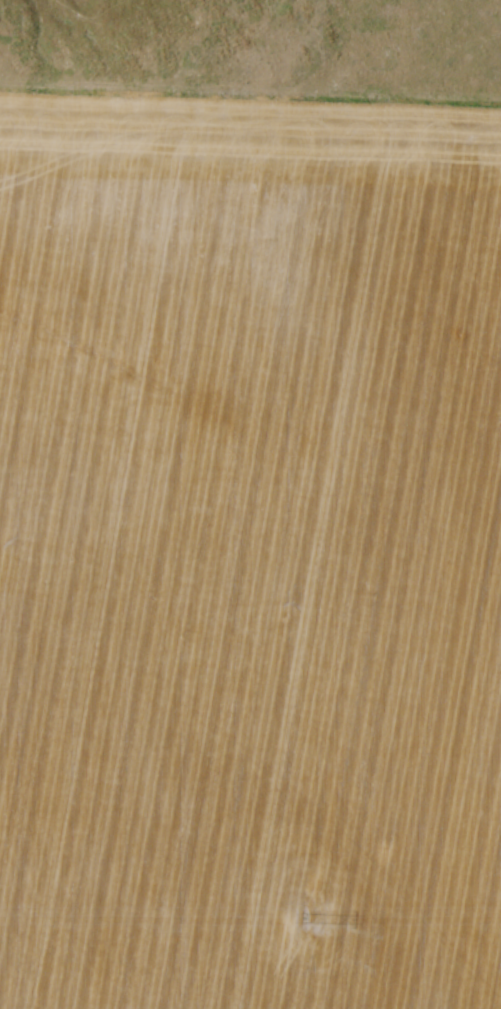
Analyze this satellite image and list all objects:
power tower: (303, 916)

